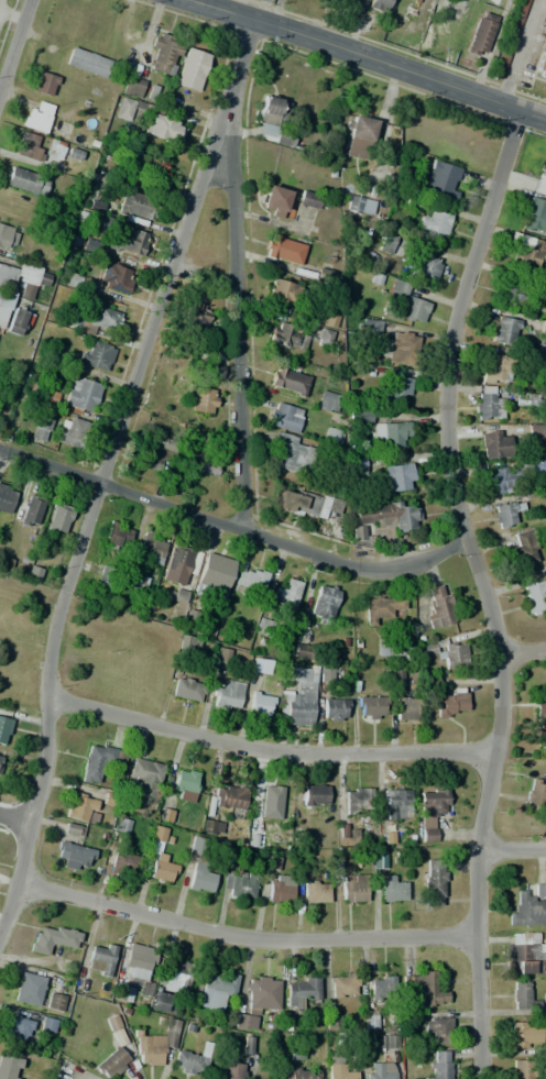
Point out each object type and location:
building: (379, 3)
building: (518, 13)
building: (481, 33)
road: (14, 44)
road: (517, 52)
building: (163, 54)
road: (369, 58)
building: (87, 62)
building: (542, 66)
building: (190, 69)
building: (44, 84)
building: (132, 87)
building: (128, 108)
building: (36, 118)
building: (271, 119)
building: (164, 129)
building: (359, 136)
building: (29, 145)
building: (54, 147)
building: (145, 164)
building: (440, 179)
building: (26, 180)
building: (309, 199)
building: (275, 201)
building: (360, 205)
building: (131, 207)
building: (535, 214)
building: (434, 225)
building: (7, 236)
building: (127, 241)
building: (386, 243)
building: (90, 245)
building: (287, 250)
building: (527, 252)
building: (423, 266)
road: (205, 274)
building: (22, 277)
building: (112, 277)
building: (282, 291)
building: (517, 293)
building: (405, 301)
building: (4, 308)
road: (237, 310)
building: (94, 318)
building: (19, 320)
building: (196, 323)
building: (371, 326)
building: (503, 330)
building: (287, 335)
building: (324, 338)
building: (398, 349)
building: (97, 355)
building: (537, 363)
building: (193, 366)
building: (495, 368)
building: (215, 372)
building: (288, 378)
building: (395, 389)
building: (43, 394)
building: (79, 394)
building: (200, 399)
building: (524, 399)
building: (327, 401)
building: (487, 404)
building: (359, 416)
building: (285, 417)
building: (40, 427)
building: (535, 430)
building: (72, 431)
building: (393, 433)
building: (494, 444)
building: (152, 452)
building: (292, 455)
building: (199, 463)
building: (357, 466)
road: (103, 470)
building: (511, 474)
building: (396, 476)
building: (6, 498)
building: (308, 504)
building: (31, 511)
building: (504, 515)
building: (385, 517)
building: (58, 518)
road: (233, 526)
building: (114, 533)
building: (361, 538)
building: (523, 546)
building: (152, 548)
building: (177, 564)
building: (105, 574)
building: (214, 576)
building: (132, 579)
building: (248, 581)
road: (483, 588)
building: (178, 596)
building: (534, 597)
building: (284, 598)
building: (321, 604)
building: (382, 607)
building: (439, 607)
building: (262, 626)
building: (387, 647)
road: (522, 649)
park: (79, 651)
building: (444, 651)
building: (222, 656)
building: (325, 674)
building: (395, 675)
building: (188, 690)
building: (227, 694)
building: (299, 695)
building: (450, 702)
building: (539, 702)
building: (260, 703)
building: (370, 707)
building: (404, 707)
building: (334, 709)
building: (3, 729)
road: (267, 750)
building: (0, 758)
building: (98, 760)
building: (144, 775)
building: (184, 784)
building: (314, 794)
building: (535, 794)
building: (229, 796)
building: (357, 800)
building: (395, 803)
building: (273, 804)
building: (79, 805)
building: (430, 812)
road: (14, 818)
building: (211, 826)
building: (70, 829)
building: (254, 835)
building: (347, 835)
building: (196, 846)
road: (511, 848)
building: (73, 855)
building: (124, 860)
building: (162, 869)
building: (200, 880)
building: (432, 880)
building: (238, 885)
building: (353, 888)
building: (279, 889)
building: (391, 889)
building: (539, 891)
building: (315, 892)
building: (526, 911)
road: (243, 935)
building: (53, 938)
building: (524, 954)
building: (100, 958)
building: (131, 971)
building: (171, 975)
building: (343, 986)
building: (381, 988)
building: (422, 988)
building: (28, 989)
building: (217, 989)
building: (301, 989)
building: (521, 997)
building: (258, 999)
building: (54, 1001)
building: (161, 1002)
building: (370, 1019)
building: (47, 1024)
building: (18, 1027)
building: (434, 1027)
building: (525, 1034)
building: (385, 1042)
building: (157, 1043)
building: (114, 1052)
building: (194, 1058)
building: (439, 1065)
building: (9, 1067)
building: (338, 1068)
building: (522, 1068)
building: (230, 1070)
building: (379, 1070)
building: (301, 1074)

